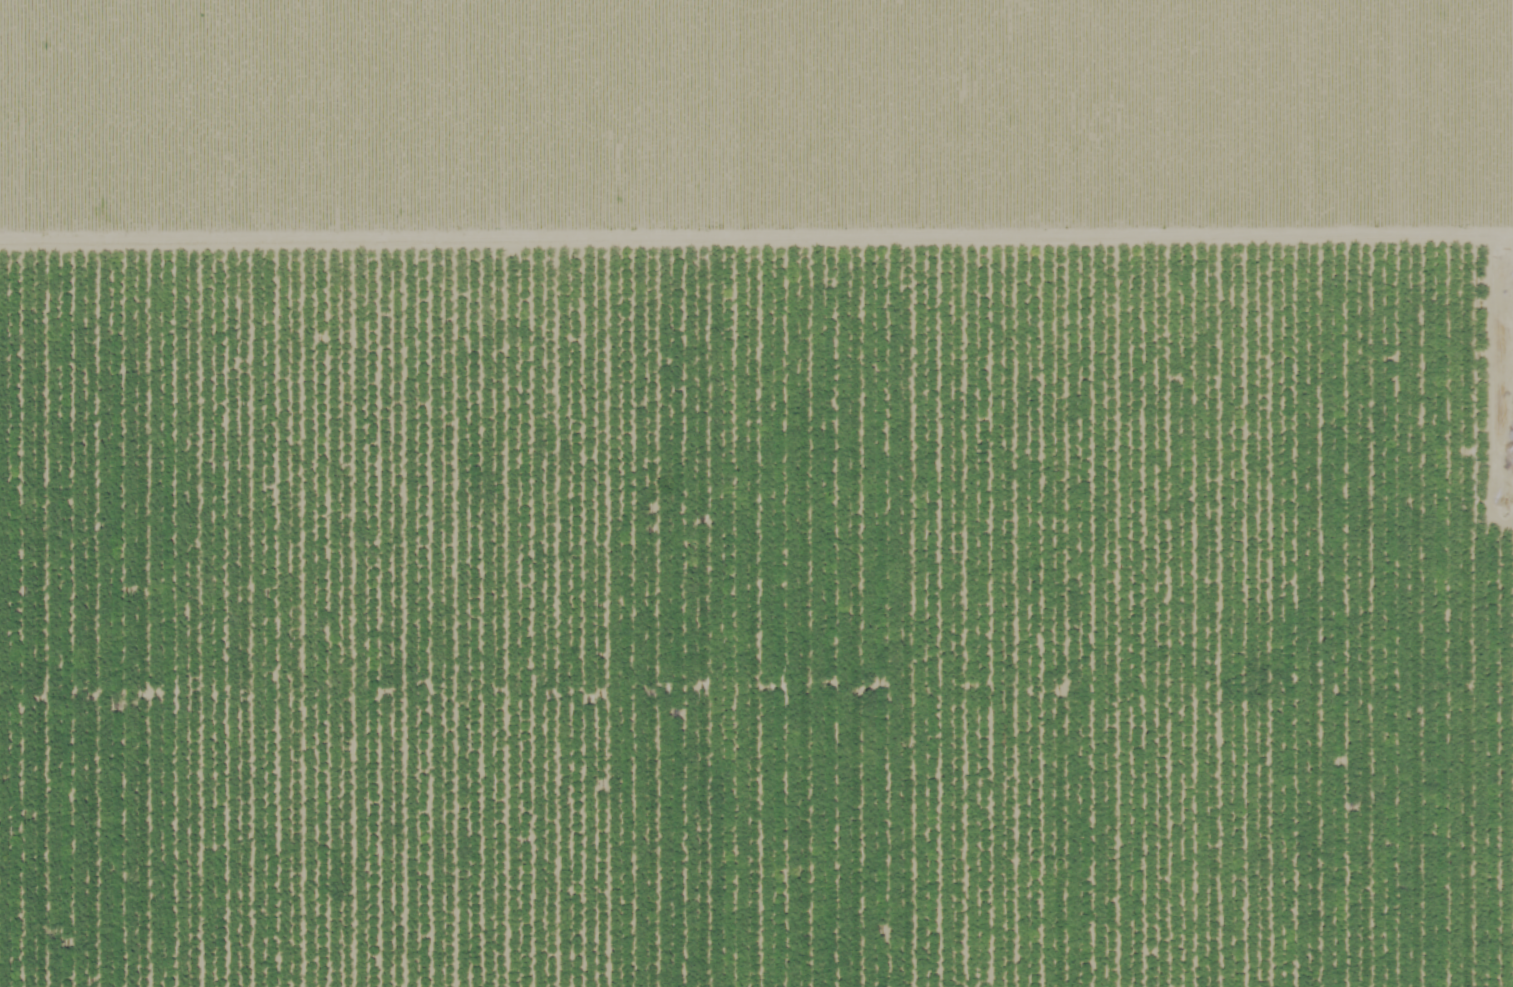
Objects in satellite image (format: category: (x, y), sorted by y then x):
crop: (750, 111)

